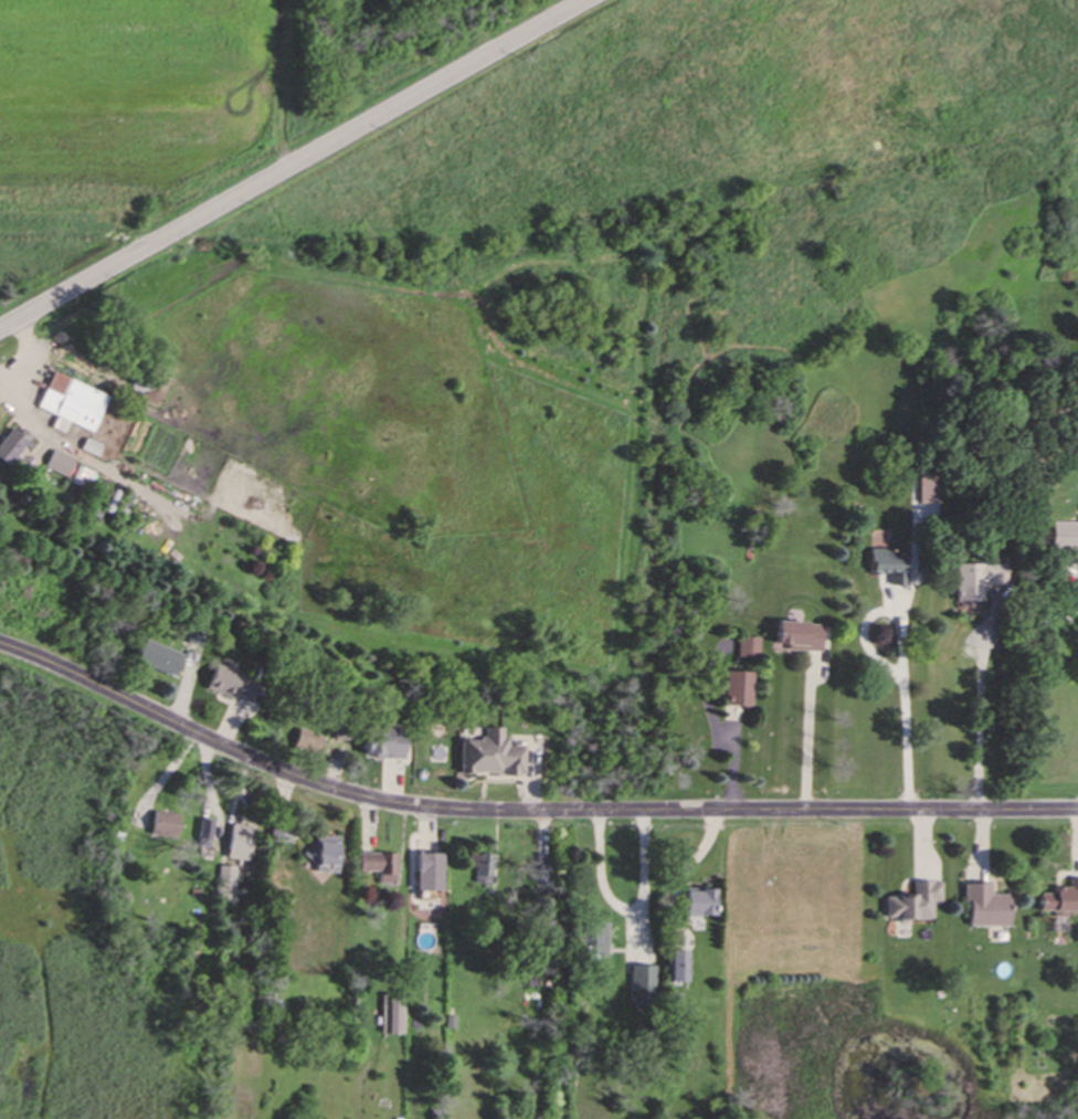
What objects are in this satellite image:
road: (293, 168)
road: (21, 351)
building: (74, 405)
building: (13, 448)
building: (61, 465)
building: (930, 488)
building: (1066, 538)
building: (802, 637)
building: (749, 654)
building: (162, 659)
building: (231, 688)
building: (741, 690)
road: (902, 714)
road: (977, 731)
building: (344, 733)
building: (388, 746)
road: (804, 746)
building: (495, 757)
road: (522, 811)
building: (167, 828)
building: (205, 831)
building: (243, 844)
building: (327, 856)
building: (382, 868)
building: (482, 872)
building: (432, 874)
road: (643, 879)
building: (1060, 901)
building: (915, 902)
building: (704, 905)
building: (987, 908)
road: (644, 910)
building: (680, 968)

